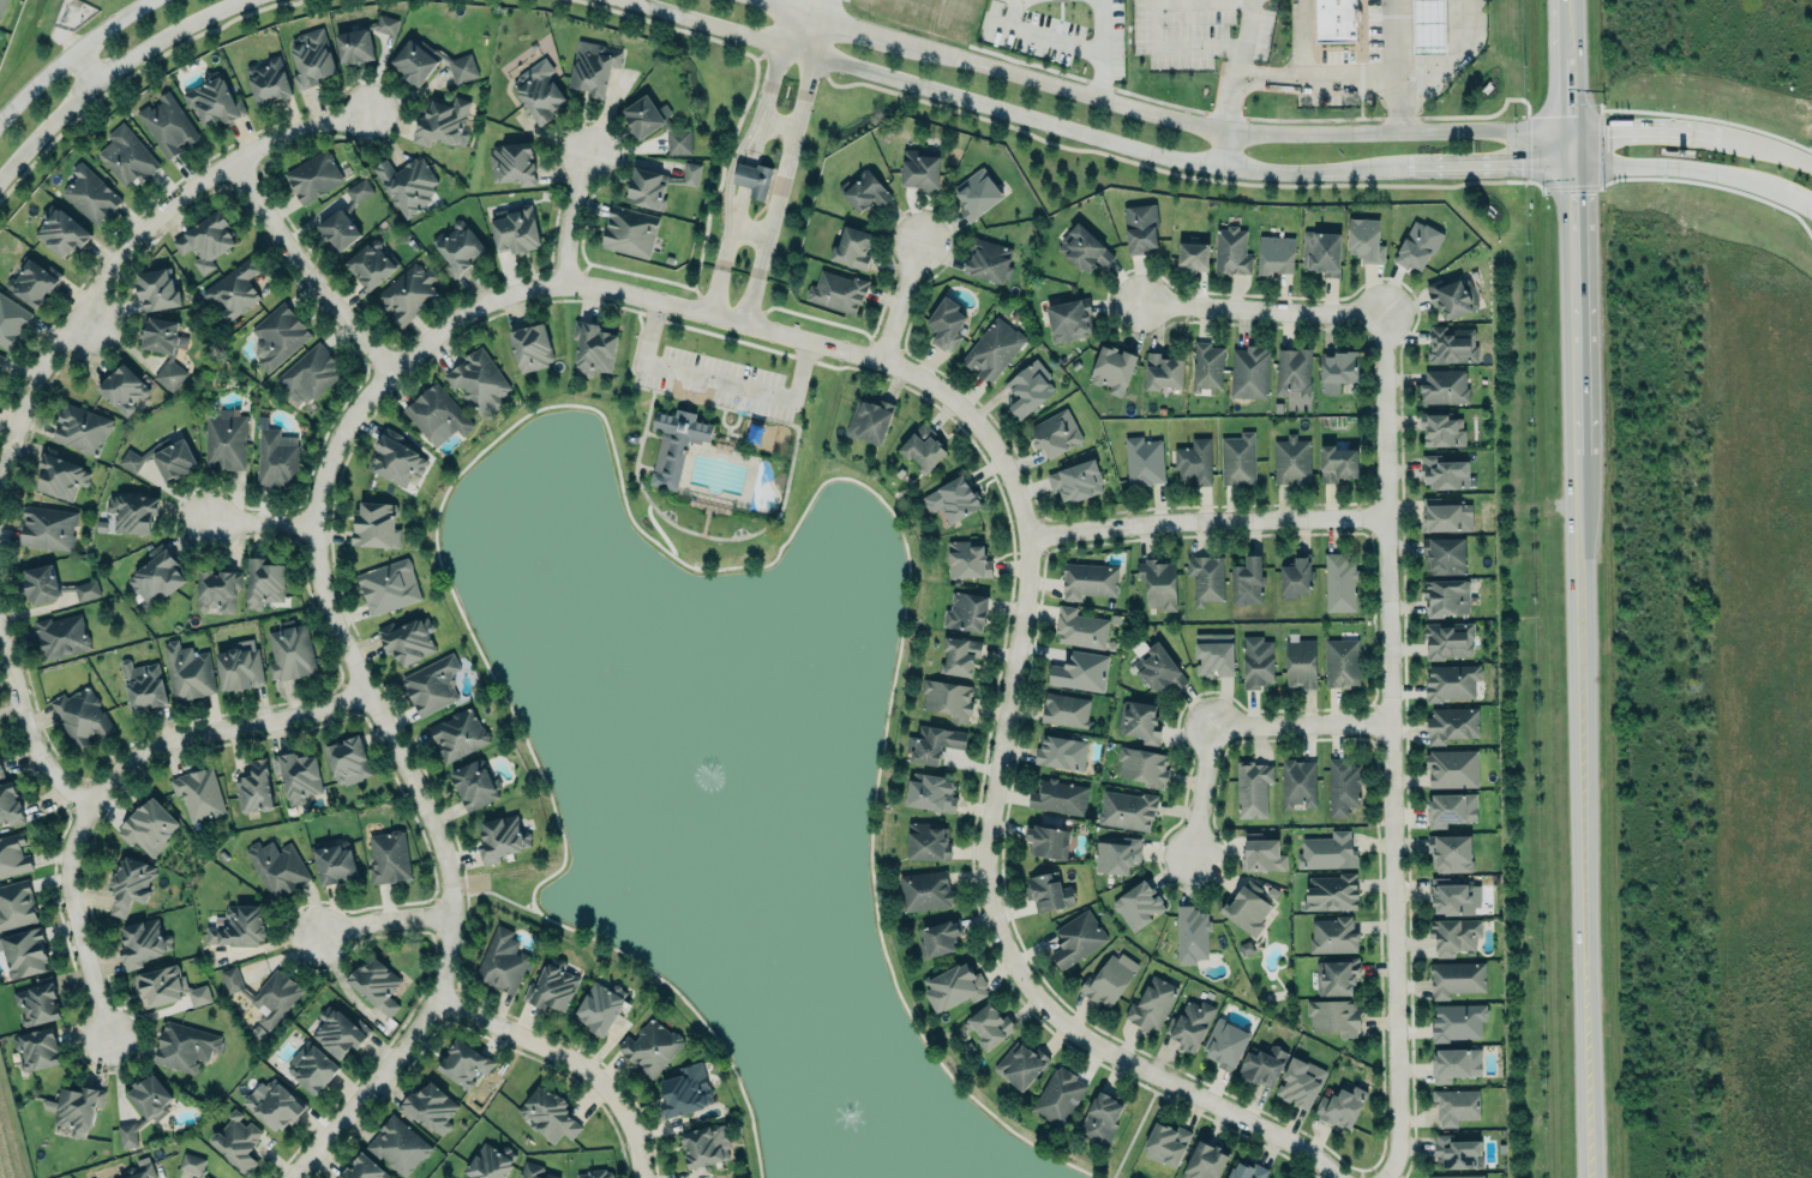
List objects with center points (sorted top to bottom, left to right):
building: (1058, 0)
building: (1, 6)
road: (1252, 6)
road: (1164, 13)
building: (1344, 22)
building: (1428, 26)
gas station: (1429, 26)
road: (1399, 37)
building: (360, 41)
road: (1076, 46)
road: (1452, 54)
road: (68, 56)
building: (310, 58)
building: (430, 61)
building: (593, 67)
road: (109, 73)
road: (1312, 76)
road: (1240, 77)
building: (268, 79)
building: (538, 90)
building: (214, 101)
road: (1403, 103)
road: (1158, 118)
building: (443, 120)
building: (656, 124)
building: (167, 125)
road: (778, 126)
road: (1644, 130)
road: (755, 134)
road: (1088, 134)
road: (796, 139)
road: (1764, 155)
building: (126, 156)
building: (511, 163)
building: (919, 169)
road: (1679, 169)
building: (690, 174)
building: (313, 175)
building: (752, 179)
building: (407, 184)
building: (646, 188)
building: (866, 188)
building: (359, 191)
building: (977, 191)
building: (90, 193)
road: (1796, 202)
road: (569, 218)
building: (515, 228)
road: (752, 228)
building: (1140, 228)
building: (337, 229)
building: (59, 232)
building: (629, 232)
road: (130, 240)
building: (205, 240)
building: (1364, 240)
building: (1417, 244)
building: (457, 247)
building: (851, 247)
building: (1082, 247)
building: (1231, 250)
building: (1321, 251)
building: (1193, 254)
building: (1274, 254)
building: (988, 259)
building: (370, 263)
road: (306, 270)
building: (32, 280)
building: (156, 288)
building: (233, 289)
building: (836, 290)
building: (407, 292)
road: (716, 293)
building: (1452, 297)
road: (754, 301)
road: (901, 302)
road: (1260, 308)
building: (1069, 318)
building: (11, 319)
building: (946, 321)
building: (278, 335)
building: (1451, 343)
building: (163, 347)
building: (530, 347)
building: (593, 348)
building: (992, 348)
building: (1, 359)
building: (1206, 366)
building: (1112, 367)
building: (1338, 367)
building: (1163, 369)
building: (1294, 371)
building: (1249, 372)
building: (308, 374)
road: (720, 377)
building: (478, 380)
building: (1444, 386)
building: (122, 387)
building: (1028, 389)
building: (437, 414)
building: (869, 420)
building: (1441, 427)
building: (80, 428)
building: (1056, 432)
building: (224, 438)
building: (674, 445)
building: (923, 447)
building: (396, 457)
building: (1237, 457)
building: (276, 458)
building: (1291, 459)
building: (1144, 461)
building: (1194, 461)
building: (1338, 462)
building: (1444, 470)
building: (60, 476)
building: (1075, 481)
building: (953, 498)
building: (132, 511)
building: (1447, 516)
road: (1207, 518)
road: (262, 522)
building: (376, 524)
building: (47, 527)
building: (1444, 554)
building: (967, 558)
building: (155, 576)
building: (1205, 578)
building: (1295, 578)
building: (1087, 579)
building: (264, 581)
building: (1246, 581)
building: (1158, 582)
building: (1339, 583)
building: (40, 584)
building: (390, 585)
building: (216, 588)
road: (1580, 588)
building: (85, 590)
building: (1447, 596)
building: (966, 611)
building: (1115, 619)
road: (335, 627)
building: (1081, 627)
building: (60, 636)
building: (407, 639)
building: (1448, 639)
building: (1110, 644)
building: (290, 650)
building: (1213, 653)
building: (959, 656)
building: (1255, 661)
building: (1340, 662)
building: (1300, 663)
building: (239, 665)
building: (1159, 668)
building: (187, 671)
building: (1080, 671)
building: (1451, 681)
building: (431, 684)
building: (142, 685)
building: (947, 697)
building: (1066, 710)
building: (79, 715)
building: (1139, 720)
road: (25, 722)
building: (1451, 722)
road: (1302, 723)
building: (458, 734)
road: (1002, 739)
building: (932, 743)
road: (1392, 747)
building: (1062, 751)
building: (347, 761)
building: (1142, 765)
building: (1451, 767)
building: (0, 773)
fountain: (714, 774)
building: (296, 775)
road: (110, 780)
building: (1298, 782)
building: (473, 783)
building: (1342, 786)
building: (253, 787)
building: (1252, 787)
building: (930, 791)
road: (1201, 792)
building: (198, 794)
building: (1058, 797)
building: (10, 804)
building: (1451, 807)
building: (1126, 810)
building: (148, 825)
building: (502, 837)
building: (925, 840)
building: (1048, 840)
building: (1327, 851)
building: (1261, 853)
building: (1450, 853)
building: (13, 855)
building: (1115, 855)
building: (389, 857)
building: (334, 864)
building: (276, 867)
building: (130, 883)
building: (925, 889)
building: (1049, 890)
building: (1330, 891)
building: (1451, 897)
building: (1138, 903)
building: (16, 904)
building: (1246, 907)
road: (385, 921)
building: (236, 926)
building: (1190, 933)
building: (1333, 934)
building: (1454, 934)
building: (938, 937)
building: (1076, 937)
building: (140, 942)
building: (24, 951)
building: (503, 960)
building: (1339, 975)
building: (1456, 978)
building: (1108, 979)
building: (376, 984)
building: (553, 985)
building: (167, 986)
building: (953, 986)
building: (266, 992)
building: (36, 1003)
building: (1151, 1004)
building: (599, 1005)
building: (1334, 1015)
building: (1458, 1021)
building: (1189, 1023)
building: (990, 1024)
building: (340, 1032)
building: (1225, 1044)
building: (185, 1046)
building: (649, 1047)
building: (36, 1048)
road: (571, 1058)
building: (463, 1063)
building: (1020, 1063)
building: (1454, 1063)
building: (311, 1066)
building: (1262, 1066)
building: (1300, 1082)
building: (685, 1090)
building: (1058, 1096)
building: (274, 1104)
building: (1340, 1104)
building: (144, 1106)
building: (1456, 1106)
building: (428, 1107)
building: (77, 1108)
building: (548, 1114)
fountain: (854, 1117)
building: (1100, 1117)
building: (236, 1141)
building: (1165, 1143)
building: (398, 1144)
building: (704, 1146)
building: (1457, 1152)
building: (490, 1161)
building: (1204, 1161)
building: (192, 1164)
building: (140, 1168)
building: (362, 1168)
building: (534, 1171)
building: (1244, 1172)
building: (594, 1174)
building: (1457, 1176)

